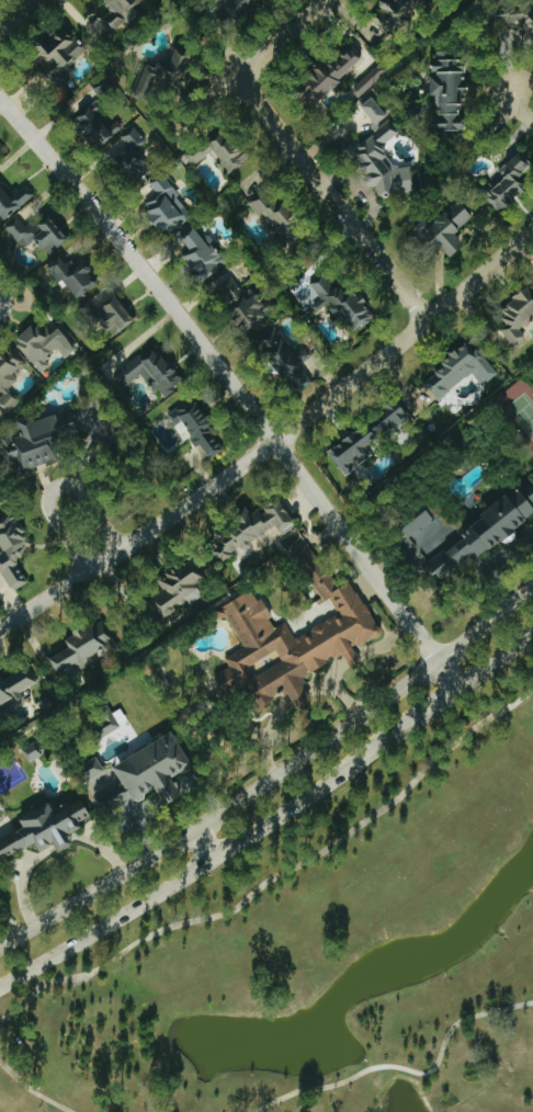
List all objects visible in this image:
building: (239, 7)
building: (123, 12)
building: (397, 13)
road: (20, 18)
building: (519, 18)
road: (286, 37)
building: (61, 53)
building: (333, 72)
building: (166, 73)
building: (371, 80)
building: (451, 91)
road: (524, 104)
building: (99, 124)
building: (222, 149)
building: (131, 150)
building: (385, 156)
building: (510, 183)
road: (340, 196)
building: (14, 198)
building: (169, 206)
building: (280, 214)
building: (449, 226)
building: (37, 232)
building: (204, 253)
building: (76, 274)
building: (245, 302)
building: (348, 305)
building: (113, 314)
building: (517, 316)
building: (45, 344)
building: (285, 356)
building: (462, 370)
building: (154, 371)
building: (10, 376)
road: (237, 385)
building: (199, 424)
building: (42, 438)
building: (370, 438)
road: (274, 442)
road: (100, 513)
building: (253, 527)
building: (14, 548)
road: (490, 564)
building: (181, 588)
building: (291, 638)
building: (84, 647)
road: (495, 660)
building: (15, 689)
road: (431, 708)
building: (0, 723)
building: (33, 751)
building: (95, 768)
building: (152, 773)
road: (273, 778)
building: (47, 829)
road: (204, 843)
road: (206, 862)
road: (281, 873)
road: (9, 924)
road: (399, 1068)
road: (33, 1089)

